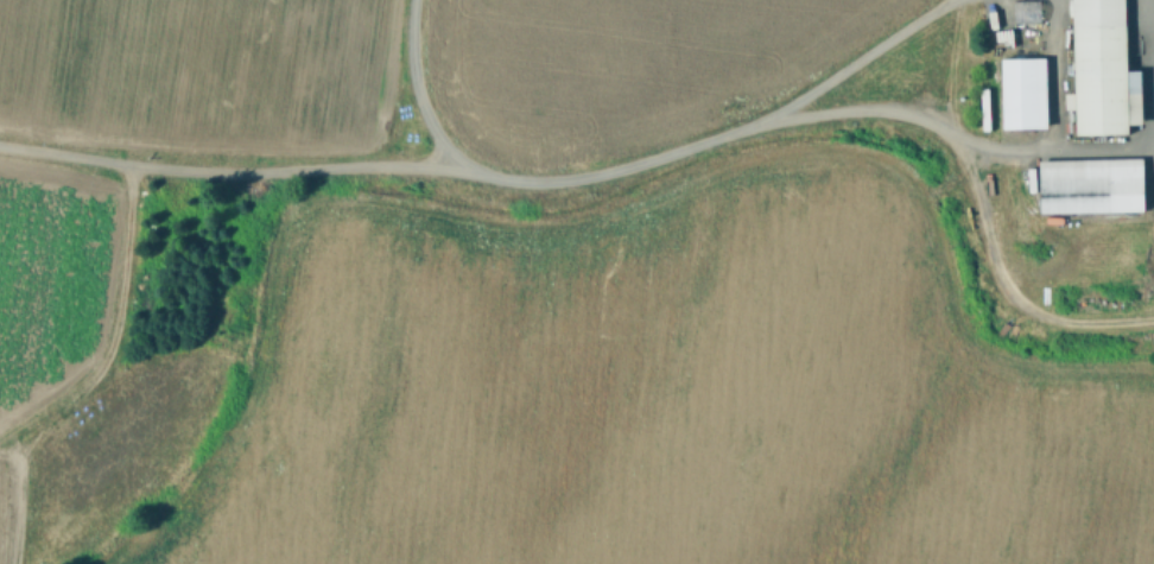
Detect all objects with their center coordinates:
road: (1153, 20)
building: (1091, 63)
road: (410, 81)
building: (1015, 88)
road: (908, 108)
road: (1096, 144)
road: (487, 172)
building: (1083, 179)
crop: (577, 281)

